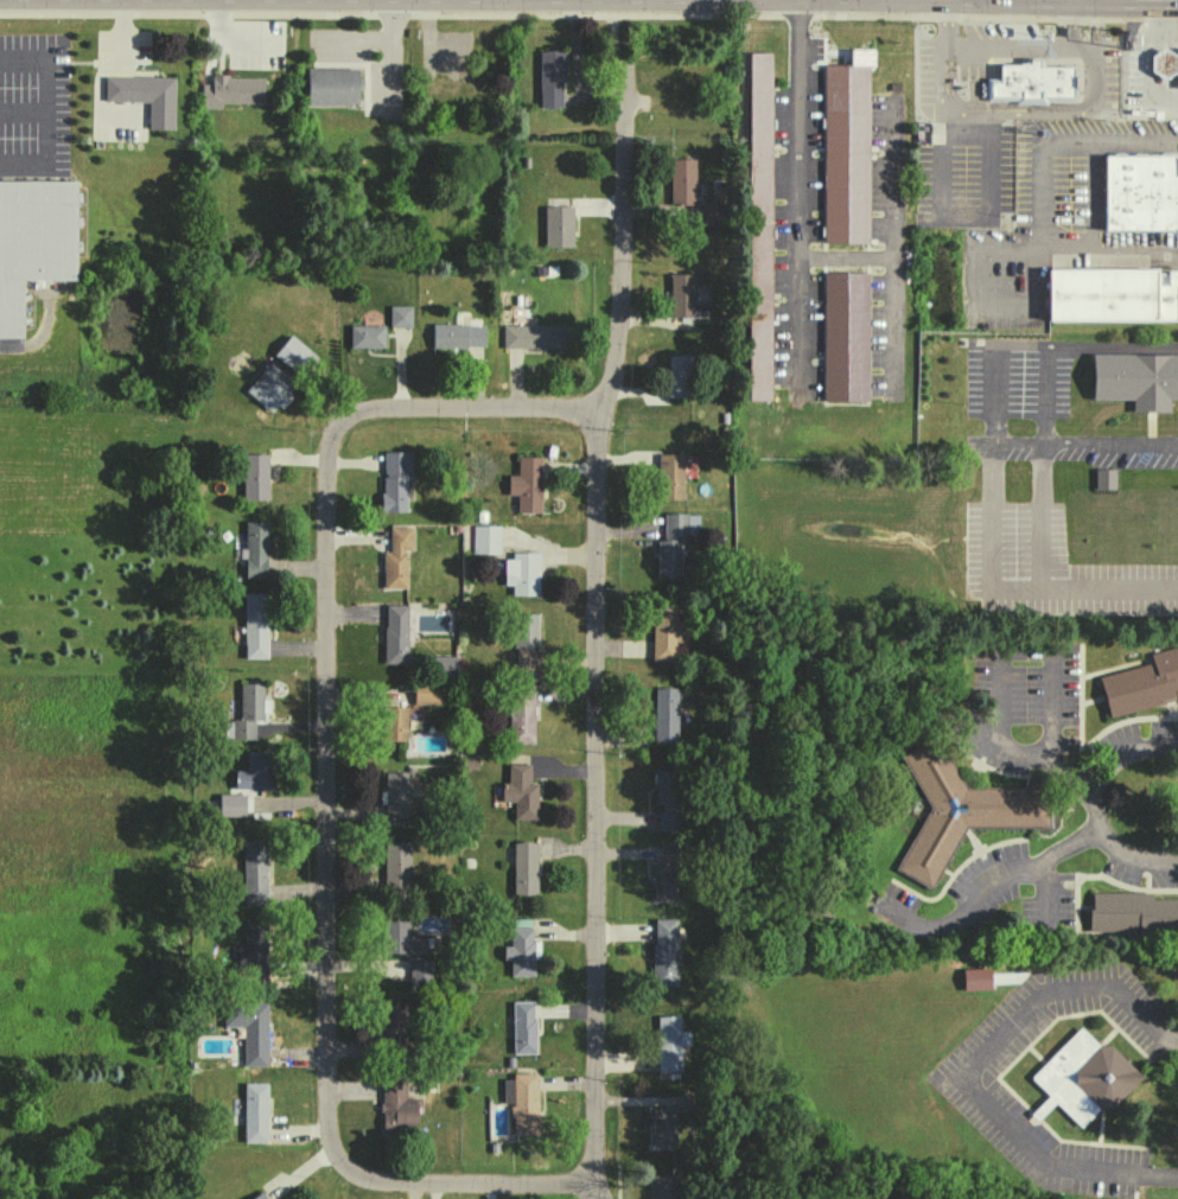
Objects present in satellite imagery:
road: (1007, 46)
road: (1144, 58)
building: (1167, 65)
building: (550, 78)
building: (1176, 81)
building: (331, 85)
building: (1036, 85)
building: (230, 90)
building: (145, 96)
road: (1023, 113)
building: (848, 155)
building: (681, 180)
road: (891, 181)
road: (1039, 194)
road: (796, 196)
building: (1144, 197)
road: (1090, 198)
road: (622, 204)
building: (711, 213)
road: (964, 215)
building: (558, 227)
building: (760, 230)
building: (33, 241)
road: (1007, 251)
road: (892, 274)
building: (683, 298)
road: (1024, 300)
building: (1115, 301)
building: (399, 315)
building: (457, 334)
building: (365, 336)
building: (533, 336)
building: (848, 340)
building: (293, 355)
building: (679, 375)
building: (1135, 378)
building: (269, 388)
road: (993, 395)
building: (254, 476)
building: (669, 476)
building: (1103, 478)
building: (394, 479)
building: (526, 484)
building: (484, 538)
building: (670, 543)
building: (254, 549)
building: (395, 556)
building: (521, 573)
road: (1012, 591)
building: (255, 625)
building: (664, 631)
building: (394, 634)
building: (523, 639)
building: (444, 667)
road: (1000, 675)
building: (1141, 683)
building: (425, 694)
road: (1050, 703)
building: (246, 712)
building: (520, 713)
building: (664, 715)
building: (393, 722)
road: (1160, 745)
road: (1061, 764)
building: (255, 772)
building: (520, 791)
building: (399, 793)
road: (326, 797)
road: (593, 797)
building: (667, 797)
building: (230, 804)
building: (951, 810)
road: (1101, 831)
road: (1160, 861)
building: (396, 866)
building: (523, 867)
building: (254, 872)
building: (667, 874)
road: (988, 882)
road: (1048, 892)
building: (1131, 912)
building: (400, 938)
building: (521, 948)
building: (253, 951)
building: (664, 951)
building: (419, 970)
building: (521, 1026)
building: (394, 1028)
building: (249, 1029)
building: (669, 1042)
road: (970, 1067)
building: (1083, 1077)
building: (523, 1103)
building: (396, 1106)
building: (254, 1111)
building: (662, 1127)
building: (662, 1186)
building: (259, 1195)

